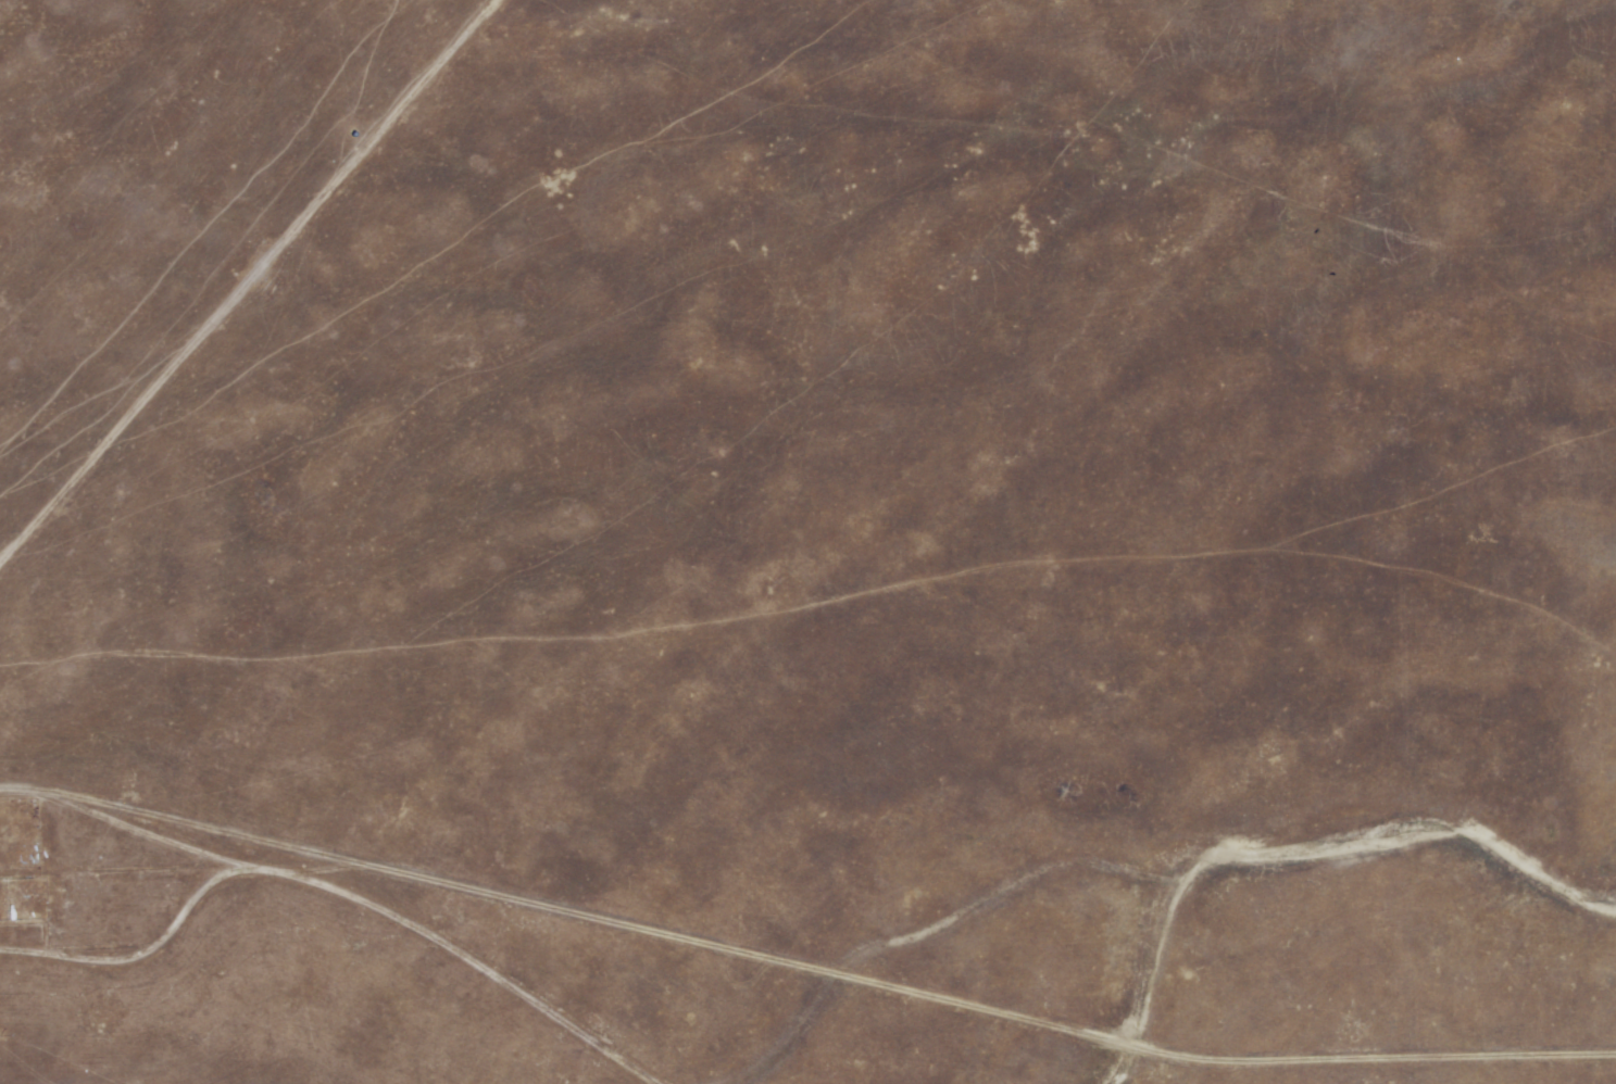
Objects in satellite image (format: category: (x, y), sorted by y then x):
road: (249, 283)
road: (341, 895)
road: (139, 955)
road: (829, 974)

